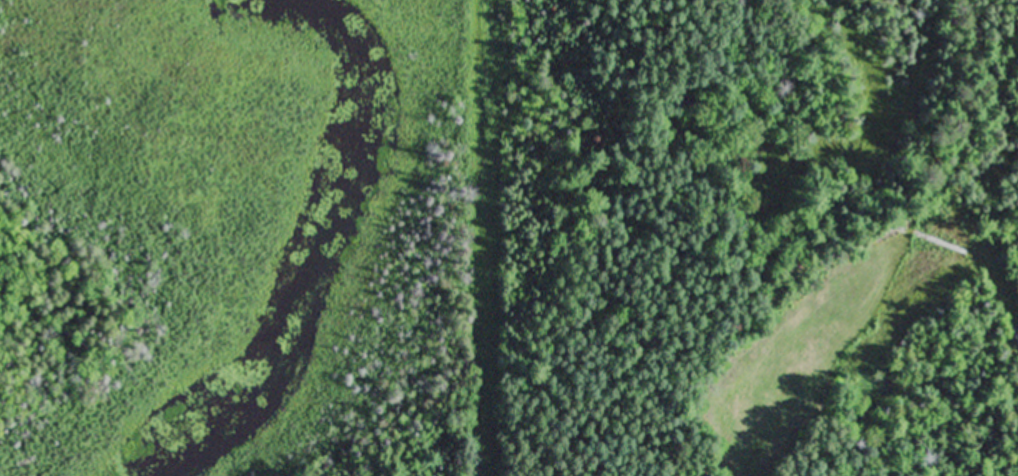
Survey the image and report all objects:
park: (874, 326)

